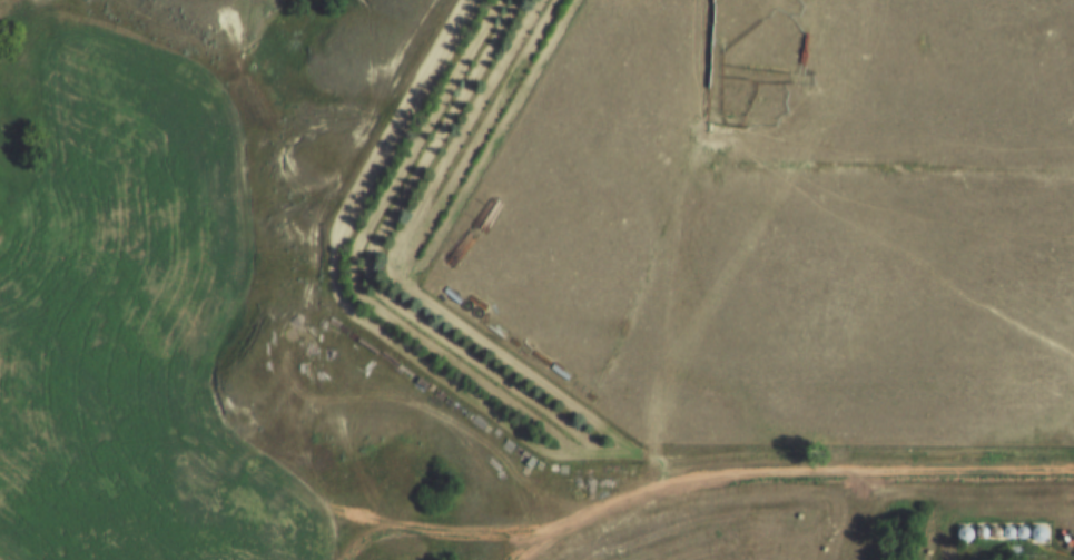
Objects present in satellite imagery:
building: (0, 331)
road: (683, 481)

